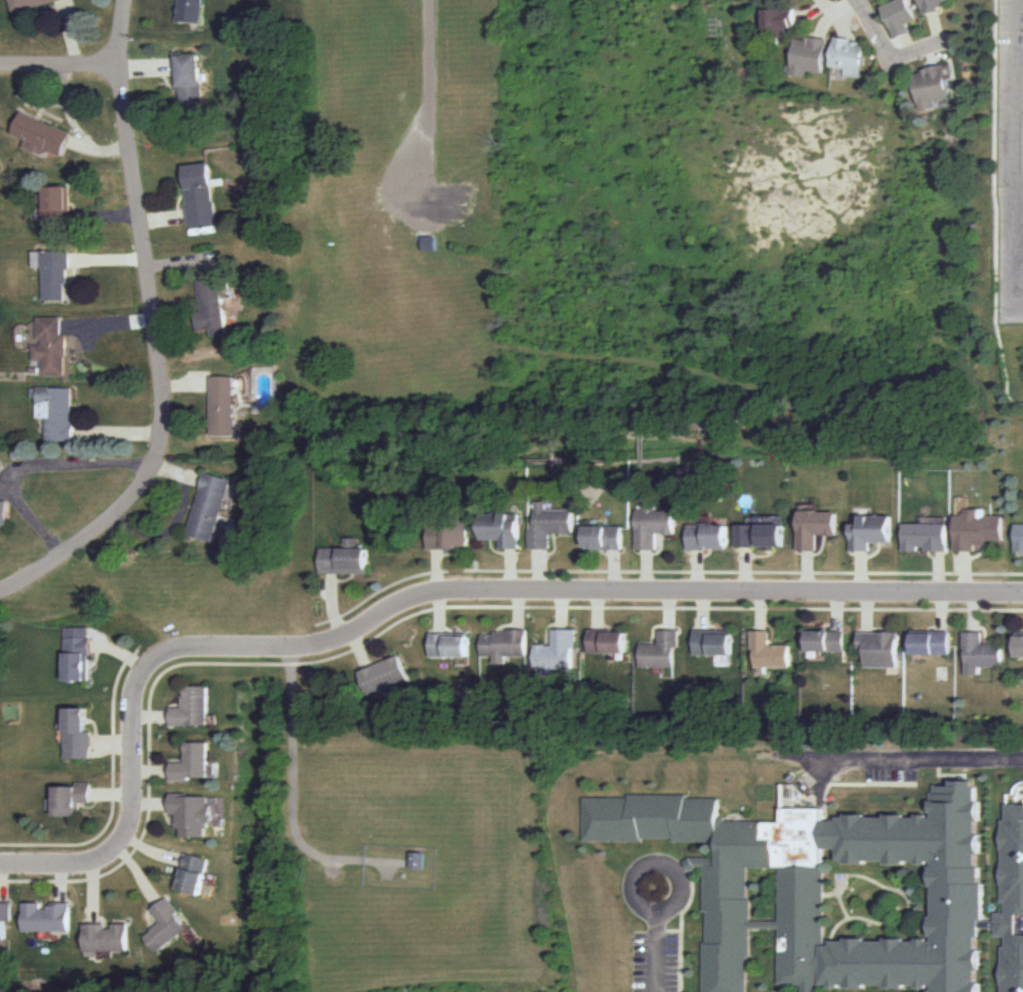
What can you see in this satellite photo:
building: (29, 4)
building: (936, 6)
road: (829, 8)
road: (845, 8)
building: (190, 11)
road: (813, 12)
building: (902, 17)
building: (781, 23)
road: (823, 24)
road: (843, 25)
road: (938, 28)
road: (875, 31)
road: (910, 46)
road: (923, 52)
building: (811, 56)
building: (851, 57)
road: (934, 57)
road: (59, 62)
road: (431, 76)
building: (191, 78)
road: (618, 79)
building: (934, 87)
parking lot: (1010, 114)
road: (76, 126)
building: (41, 135)
building: (202, 196)
building: (58, 206)
building: (431, 243)
building: (56, 275)
building: (212, 307)
road: (157, 334)
building: (54, 347)
building: (225, 404)
building: (59, 410)
road: (32, 465)
building: (212, 506)
building: (5, 512)
building: (551, 525)
building: (654, 525)
building: (817, 527)
building: (503, 529)
building: (978, 529)
building: (873, 531)
building: (762, 535)
building: (711, 536)
building: (449, 537)
building: (927, 537)
building: (1019, 537)
building: (606, 538)
building: (345, 559)
road: (750, 569)
road: (510, 570)
road: (541, 570)
road: (648, 570)
road: (699, 570)
road: (617, 571)
road: (663, 572)
road: (808, 572)
road: (861, 572)
road: (964, 573)
road: (441, 590)
road: (939, 591)
road: (418, 598)
road: (332, 608)
road: (599, 610)
road: (518, 611)
road: (563, 611)
road: (763, 611)
road: (670, 612)
road: (705, 612)
road: (837, 612)
road: (421, 613)
road: (869, 613)
road: (973, 613)
road: (100, 637)
building: (609, 642)
building: (827, 642)
building: (715, 643)
building: (932, 643)
building: (507, 644)
building: (450, 645)
building: (1018, 645)
building: (880, 650)
road: (360, 651)
building: (559, 651)
road: (120, 652)
building: (662, 652)
building: (771, 652)
building: (79, 654)
building: (980, 654)
building: (385, 677)
building: (194, 707)
road: (154, 717)
building: (79, 734)
road: (115, 746)
road: (914, 757)
building: (194, 761)
road: (154, 772)
road: (951, 774)
road: (860, 784)
road: (115, 791)
road: (114, 794)
park: (415, 794)
building: (76, 798)
road: (295, 802)
road: (153, 804)
building: (194, 814)
road: (156, 851)
building: (418, 860)
building: (196, 873)
road: (141, 874)
road: (4, 882)
road: (62, 883)
building: (822, 885)
building: (765, 891)
road: (96, 892)
road: (635, 899)
building: (878, 899)
road: (909, 903)
road: (843, 907)
building: (49, 917)
building: (7, 921)
building: (169, 926)
road: (682, 926)
building: (109, 938)
building: (933, 938)
road: (657, 952)
building: (809, 988)
road: (810, 988)

